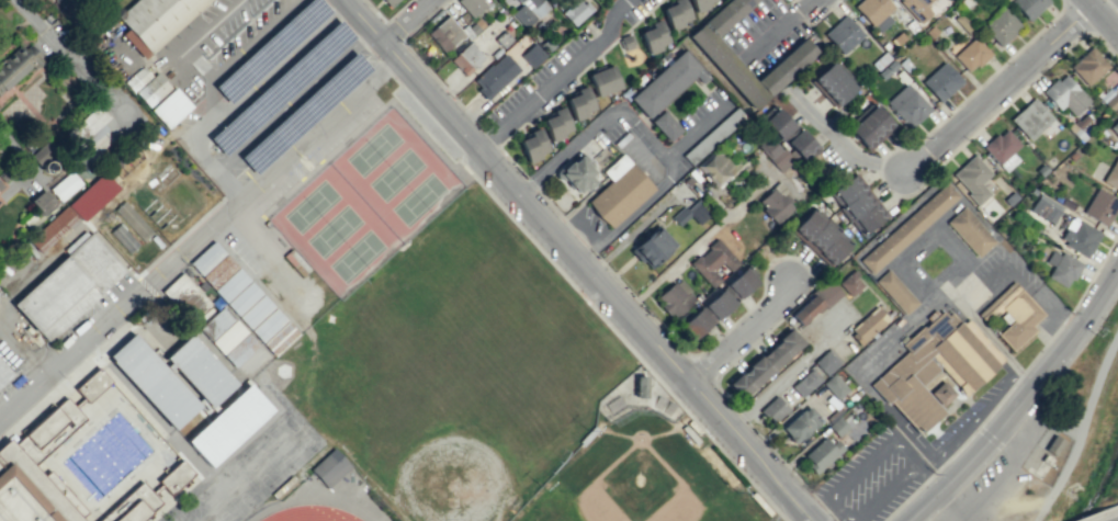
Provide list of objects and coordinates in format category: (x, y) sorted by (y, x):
road: (791, 1)
building: (391, 2)
road: (808, 3)
building: (699, 4)
building: (472, 5)
road: (1111, 5)
building: (1029, 7)
building: (916, 9)
road: (1107, 9)
road: (373, 11)
building: (529, 11)
building: (576, 11)
road: (824, 12)
building: (874, 12)
building: (676, 13)
road: (1076, 16)
road: (1099, 20)
building: (155, 21)
road: (407, 21)
building: (1001, 26)
road: (393, 31)
road: (777, 31)
building: (444, 33)
building: (843, 34)
building: (653, 36)
building: (625, 42)
building: (971, 54)
building: (532, 55)
building: (466, 58)
building: (1088, 66)
building: (16, 67)
building: (786, 67)
road: (1009, 75)
building: (495, 76)
road: (215, 77)
road: (557, 79)
building: (605, 80)
building: (941, 81)
road: (255, 84)
building: (667, 84)
building: (832, 84)
building: (151, 90)
building: (1065, 94)
road: (292, 99)
building: (1109, 99)
building: (579, 102)
building: (907, 105)
building: (169, 107)
building: (1030, 118)
building: (556, 124)
building: (779, 124)
building: (666, 125)
building: (869, 126)
building: (1115, 127)
road: (693, 132)
building: (713, 135)
road: (647, 139)
building: (532, 145)
building: (800, 145)
park: (373, 149)
building: (1002, 149)
building: (41, 151)
building: (773, 152)
road: (856, 157)
building: (129, 166)
building: (715, 168)
building: (576, 173)
park: (395, 174)
building: (1111, 174)
building: (972, 178)
building: (0, 184)
road: (228, 184)
building: (64, 185)
building: (619, 191)
road: (899, 194)
park: (417, 199)
building: (42, 202)
building: (775, 203)
building: (856, 204)
park: (310, 205)
building: (1100, 206)
building: (1044, 208)
building: (74, 211)
building: (689, 214)
building: (132, 220)
building: (907, 227)
road: (249, 229)
park: (334, 230)
building: (969, 230)
building: (820, 237)
building: (1079, 237)
building: (123, 238)
road: (197, 239)
building: (652, 247)
park: (357, 256)
road: (545, 257)
building: (206, 258)
road: (598, 258)
building: (712, 261)
building: (295, 262)
road: (574, 263)
building: (1061, 268)
building: (218, 271)
building: (739, 283)
building: (850, 283)
building: (68, 285)
building: (895, 291)
building: (184, 296)
building: (242, 297)
building: (675, 297)
building: (815, 302)
building: (707, 314)
building: (1012, 314)
building: (867, 326)
building: (222, 329)
building: (273, 331)
road: (745, 335)
building: (239, 350)
building: (826, 361)
building: (764, 363)
building: (938, 364)
park: (456, 366)
building: (199, 371)
building: (3, 373)
road: (63, 381)
building: (153, 381)
building: (808, 383)
road: (1009, 385)
building: (639, 386)
building: (834, 386)
building: (941, 393)
road: (1020, 400)
building: (773, 409)
road: (974, 415)
road: (745, 418)
building: (228, 424)
building: (800, 424)
building: (839, 427)
road: (1084, 428)
park: (298, 434)
park: (1088, 441)
building: (36, 442)
building: (1055, 444)
park: (278, 452)
building: (822, 453)
building: (329, 467)
park: (257, 471)
park: (639, 479)
crop: (1107, 485)
park: (237, 490)
building: (144, 496)
park: (215, 506)
park: (190, 513)
track: (308, 513)
road: (1099, 513)

